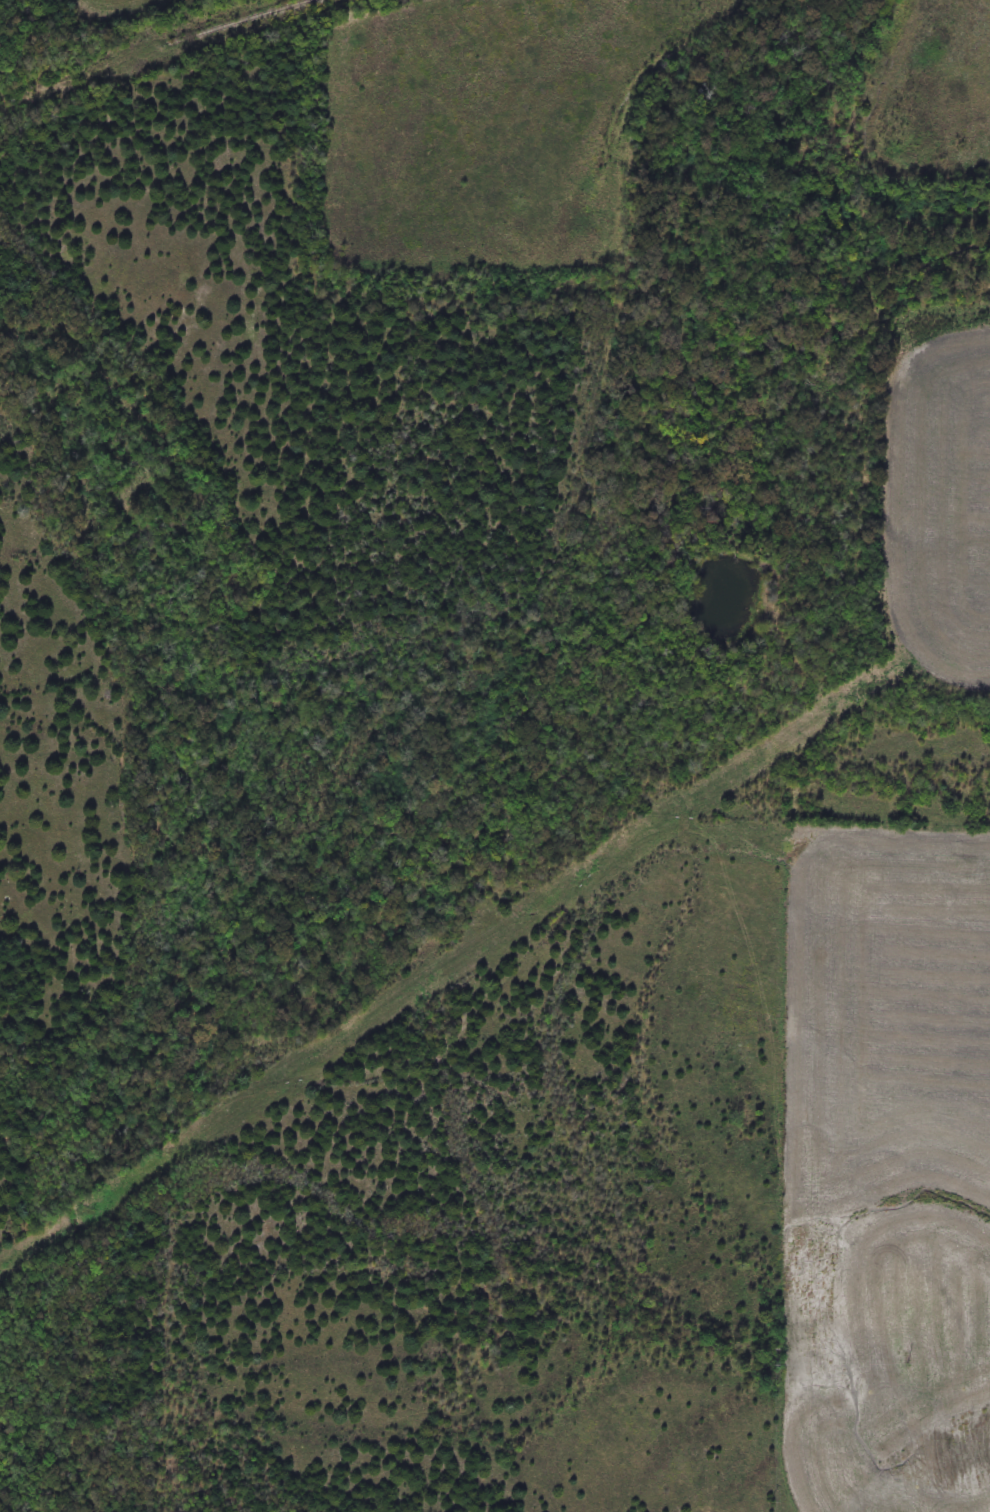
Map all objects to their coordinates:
railway: (240, 22)

